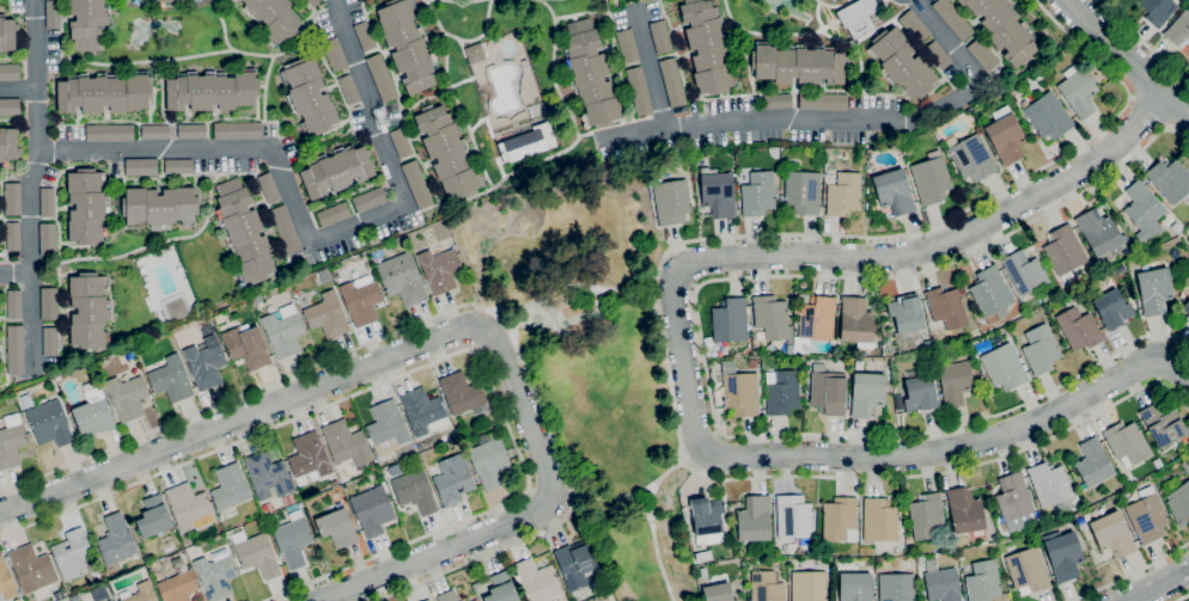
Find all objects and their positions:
building: (139, 0)
building: (196, 0)
building: (237, 0)
building: (831, 0)
building: (841, 0)
building: (166, 1)
building: (313, 2)
building: (1157, 10)
building: (53, 14)
building: (855, 17)
building: (274, 18)
building: (952, 19)
building: (87, 23)
building: (914, 26)
building: (1178, 27)
building: (1005, 30)
building: (8, 33)
building: (364, 36)
building: (660, 37)
road: (1142, 41)
building: (408, 45)
building: (627, 45)
building: (707, 47)
building: (475, 54)
building: (335, 55)
building: (937, 55)
building: (982, 55)
road: (1127, 56)
building: (798, 63)
building: (902, 63)
road: (651, 67)
building: (8, 72)
building: (590, 74)
building: (382, 78)
building: (671, 82)
road: (18, 88)
building: (348, 88)
building: (212, 91)
building: (639, 91)
building: (1078, 91)
building: (104, 92)
building: (309, 96)
building: (778, 102)
building: (822, 102)
building: (10, 106)
road: (1146, 114)
building: (1047, 115)
road: (854, 119)
building: (237, 130)
building: (156, 131)
building: (191, 131)
building: (109, 133)
building: (1005, 135)
building: (401, 142)
building: (8, 145)
building: (520, 145)
building: (447, 152)
building: (904, 152)
building: (970, 158)
building: (140, 166)
building: (178, 166)
building: (336, 171)
building: (931, 178)
building: (1170, 180)
building: (417, 184)
road: (30, 185)
building: (268, 186)
building: (801, 190)
building: (894, 191)
building: (717, 194)
building: (758, 194)
building: (843, 194)
building: (12, 198)
building: (368, 200)
building: (47, 201)
building: (671, 201)
building: (86, 206)
building: (160, 207)
building: (1144, 210)
building: (334, 214)
building: (1167, 220)
building: (1176, 227)
building: (285, 229)
building: (244, 232)
road: (307, 235)
building: (1102, 235)
building: (12, 237)
building: (48, 239)
building: (1063, 250)
road: (856, 257)
building: (439, 269)
road: (16, 272)
building: (1024, 272)
building: (401, 277)
road: (573, 284)
building: (1154, 290)
building: (990, 293)
building: (361, 301)
building: (13, 303)
building: (48, 303)
road: (654, 305)
building: (946, 307)
building: (1185, 307)
building: (89, 309)
building: (177, 309)
building: (1112, 309)
road: (447, 312)
building: (906, 313)
building: (327, 314)
building: (1188, 317)
building: (219, 318)
building: (772, 318)
building: (730, 320)
building: (856, 321)
building: (815, 323)
building: (1078, 329)
building: (283, 331)
road: (445, 335)
road: (701, 338)
building: (49, 341)
building: (246, 347)
building: (789, 348)
building: (14, 349)
building: (1041, 349)
road: (440, 358)
park: (593, 361)
building: (803, 362)
building: (752, 363)
building: (205, 364)
building: (1002, 367)
building: (171, 379)
building: (955, 382)
building: (740, 391)
building: (828, 391)
building: (782, 392)
building: (461, 393)
building: (866, 393)
building: (920, 393)
building: (127, 397)
building: (423, 411)
building: (93, 413)
building: (49, 423)
building: (1163, 424)
building: (386, 428)
building: (11, 441)
building: (346, 443)
building: (1127, 444)
road: (958, 446)
building: (309, 459)
building: (488, 459)
building: (1093, 462)
building: (1184, 466)
building: (392, 471)
building: (268, 476)
building: (453, 479)
building: (334, 484)
building: (1050, 485)
building: (1170, 485)
building: (230, 486)
building: (414, 491)
building: (1013, 497)
road: (632, 498)
building: (1179, 503)
building: (187, 505)
building: (372, 510)
building: (964, 511)
building: (153, 516)
building: (1147, 516)
building: (927, 517)
building: (707, 519)
building: (754, 519)
building: (793, 519)
building: (840, 520)
building: (879, 521)
building: (337, 527)
building: (1111, 535)
building: (293, 538)
building: (116, 540)
road: (656, 550)
building: (73, 553)
building: (256, 553)
building: (959, 553)
building: (1062, 554)
building: (702, 556)
building: (575, 564)
building: (30, 566)
building: (1026, 570)
building: (217, 574)
road: (1129, 575)
building: (6, 581)
building: (536, 581)
building: (982, 582)
building: (178, 584)
road: (1158, 584)
building: (809, 585)
building: (943, 585)
building: (499, 587)
building: (766, 587)
building: (855, 587)
building: (896, 587)
building: (139, 593)
building: (718, 593)
building: (446, 596)
road: (1181, 596)
building: (102, 597)
building: (110, 600)
building: (426, 600)
building: (470, 600)

